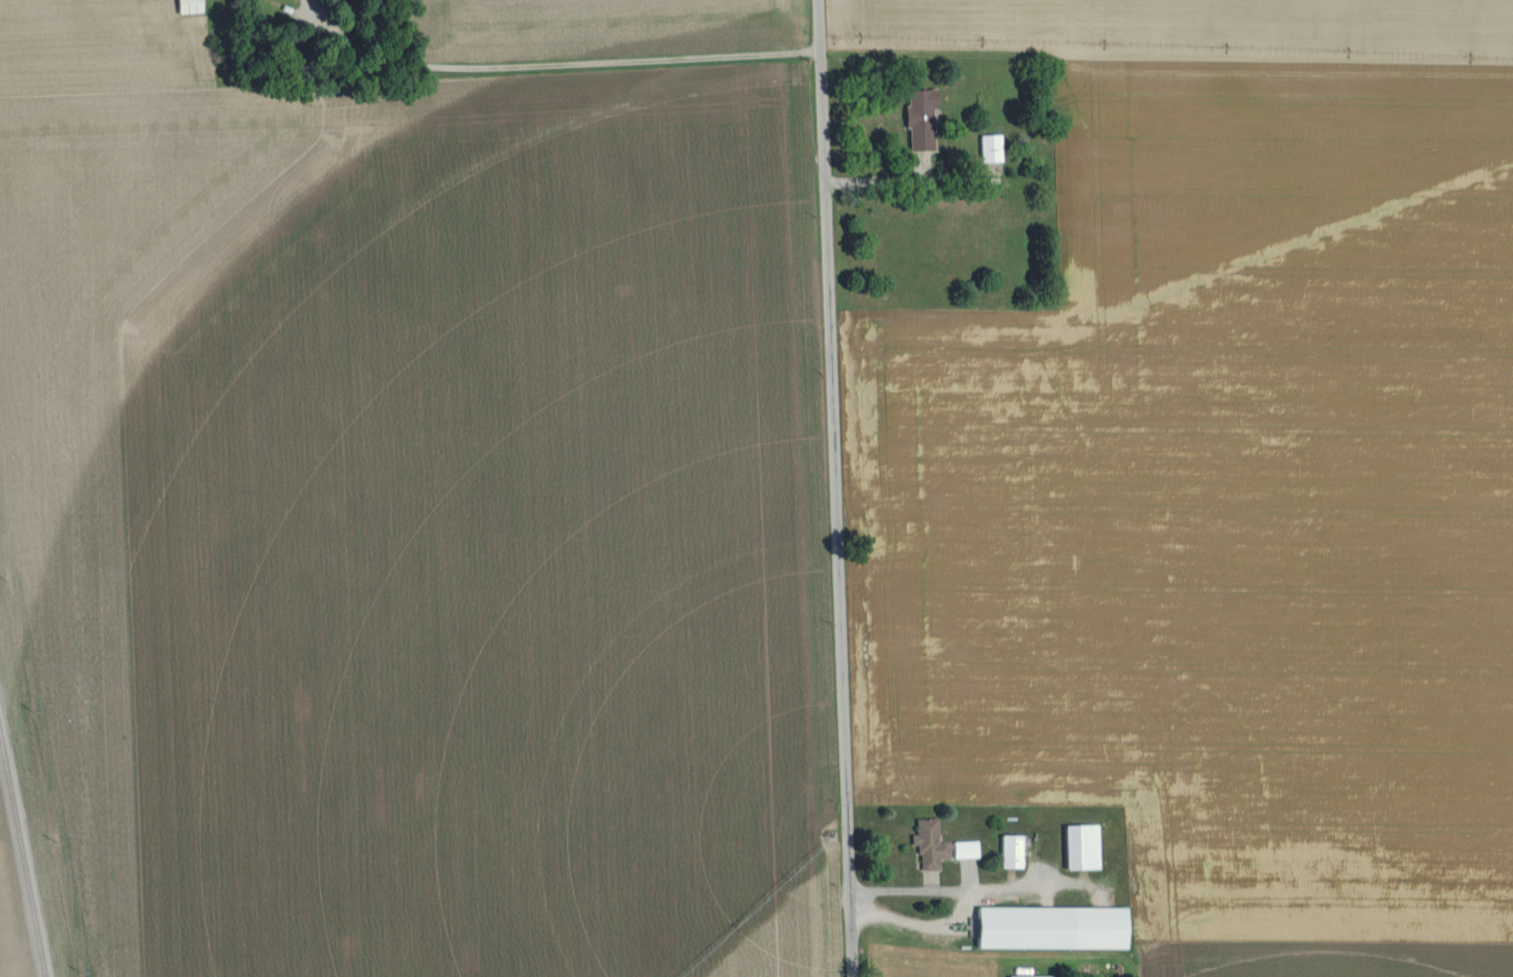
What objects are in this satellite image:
building: (187, 7)
road: (560, 65)
building: (919, 120)
building: (989, 149)
road: (836, 488)
building: (929, 846)
building: (1080, 848)
building: (964, 851)
building: (1010, 852)
railway: (21, 859)
road: (1028, 882)
road: (962, 896)
building: (1049, 929)

